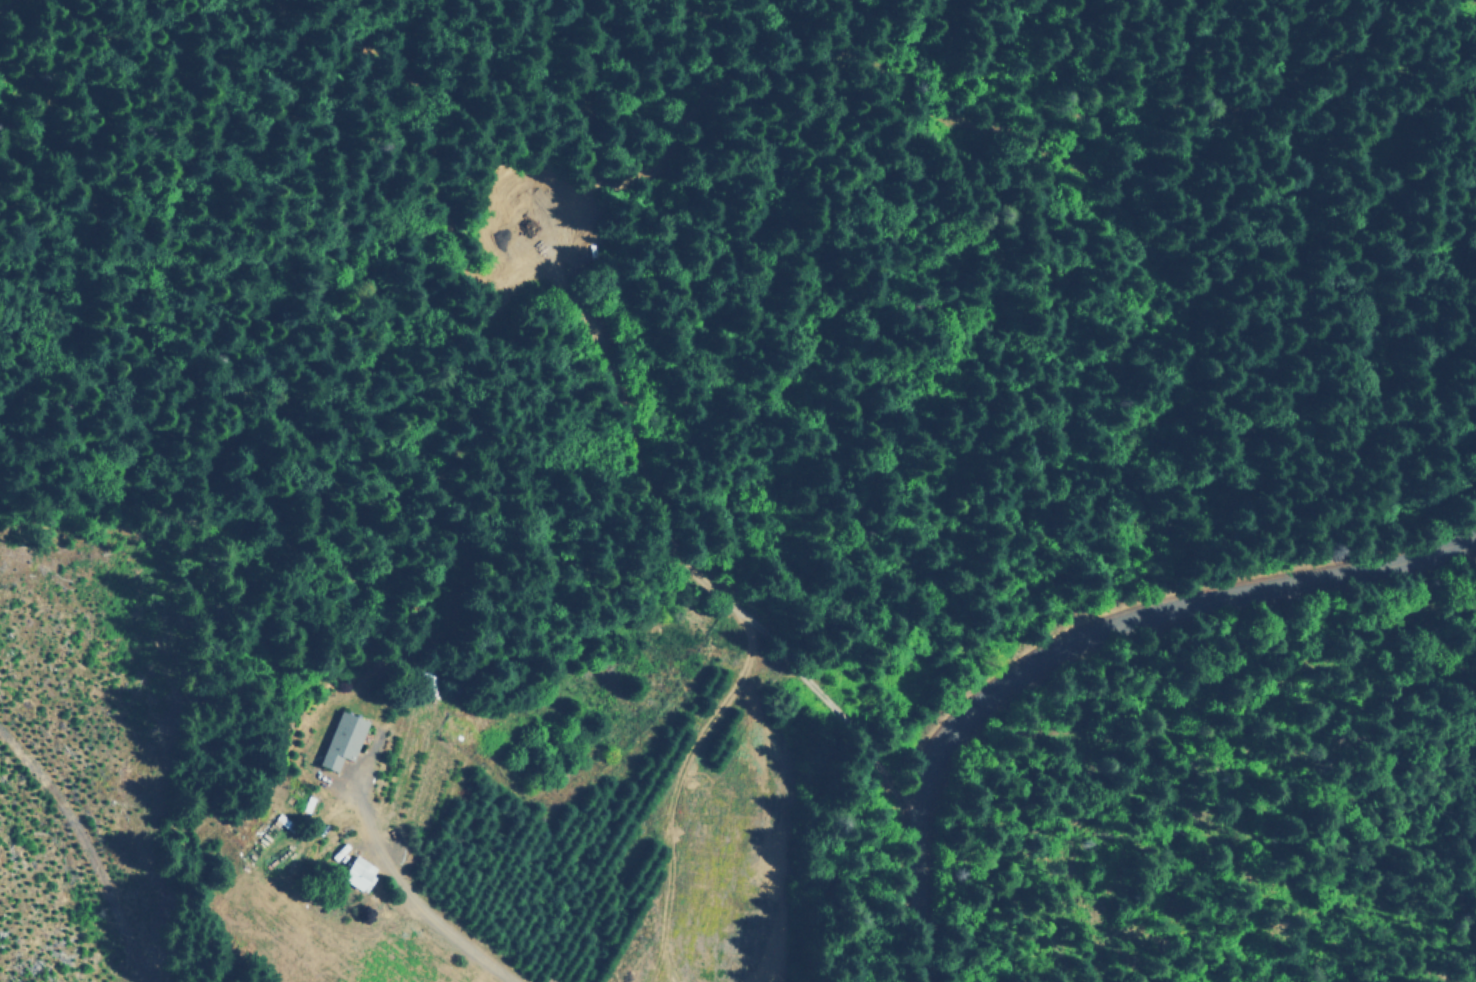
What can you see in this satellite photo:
road: (1074, 634)
building: (344, 739)
building: (361, 874)
road: (459, 930)

